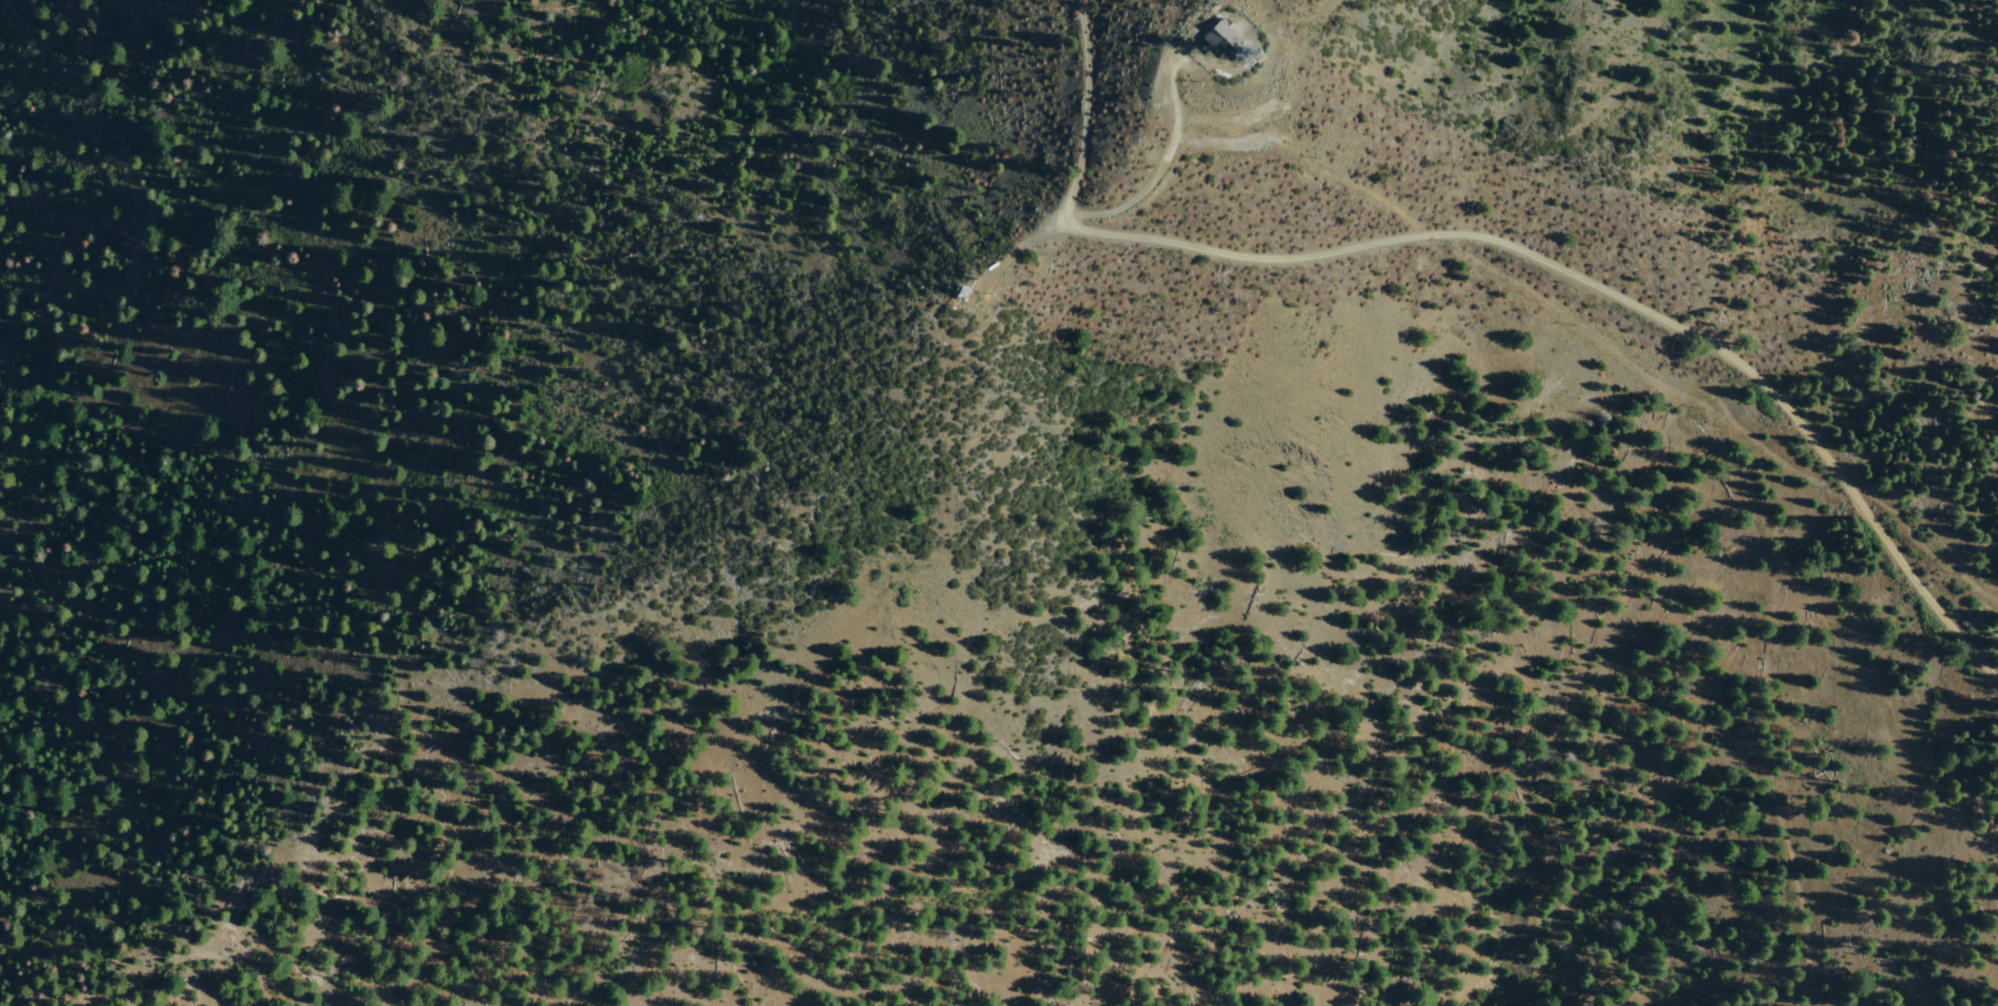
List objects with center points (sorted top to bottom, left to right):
building: (1220, 33)
road: (1161, 159)
road: (1503, 245)

